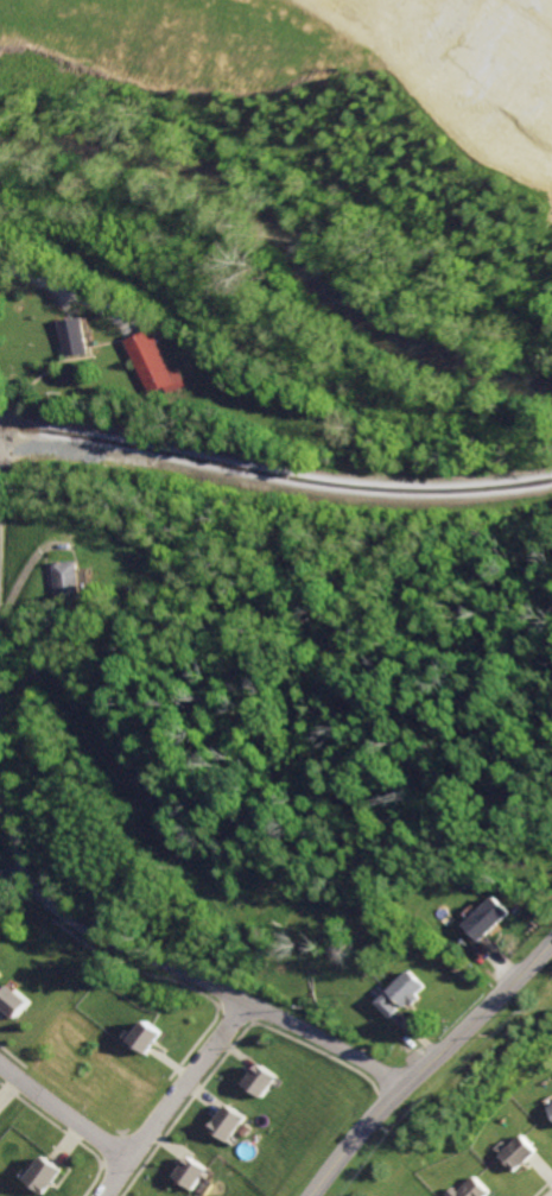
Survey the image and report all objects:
road: (66, 289)
building: (77, 336)
building: (157, 365)
railway: (274, 475)
building: (68, 580)
building: (488, 917)
road: (147, 961)
building: (1, 972)
building: (18, 993)
building: (399, 995)
building: (151, 1029)
road: (425, 1064)
building: (264, 1074)
road: (172, 1099)
building: (547, 1108)
road: (64, 1110)
building: (226, 1120)
building: (516, 1153)
building: (193, 1165)
building: (49, 1177)
building: (471, 1188)
building: (153, 1195)

